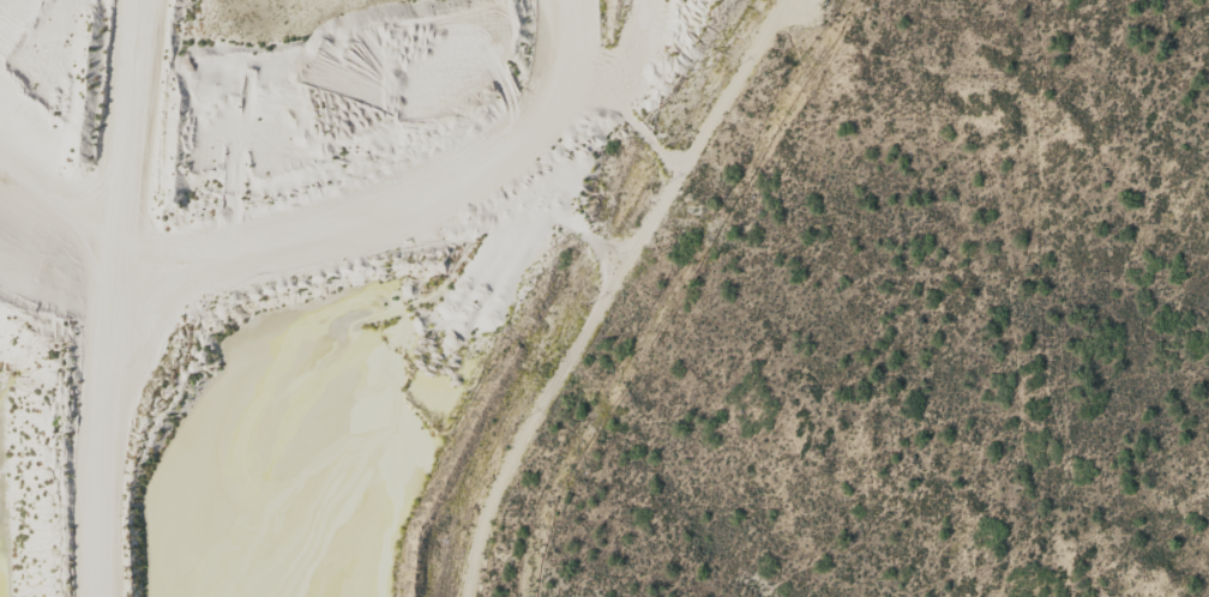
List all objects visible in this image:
quarry: (308, 270)

